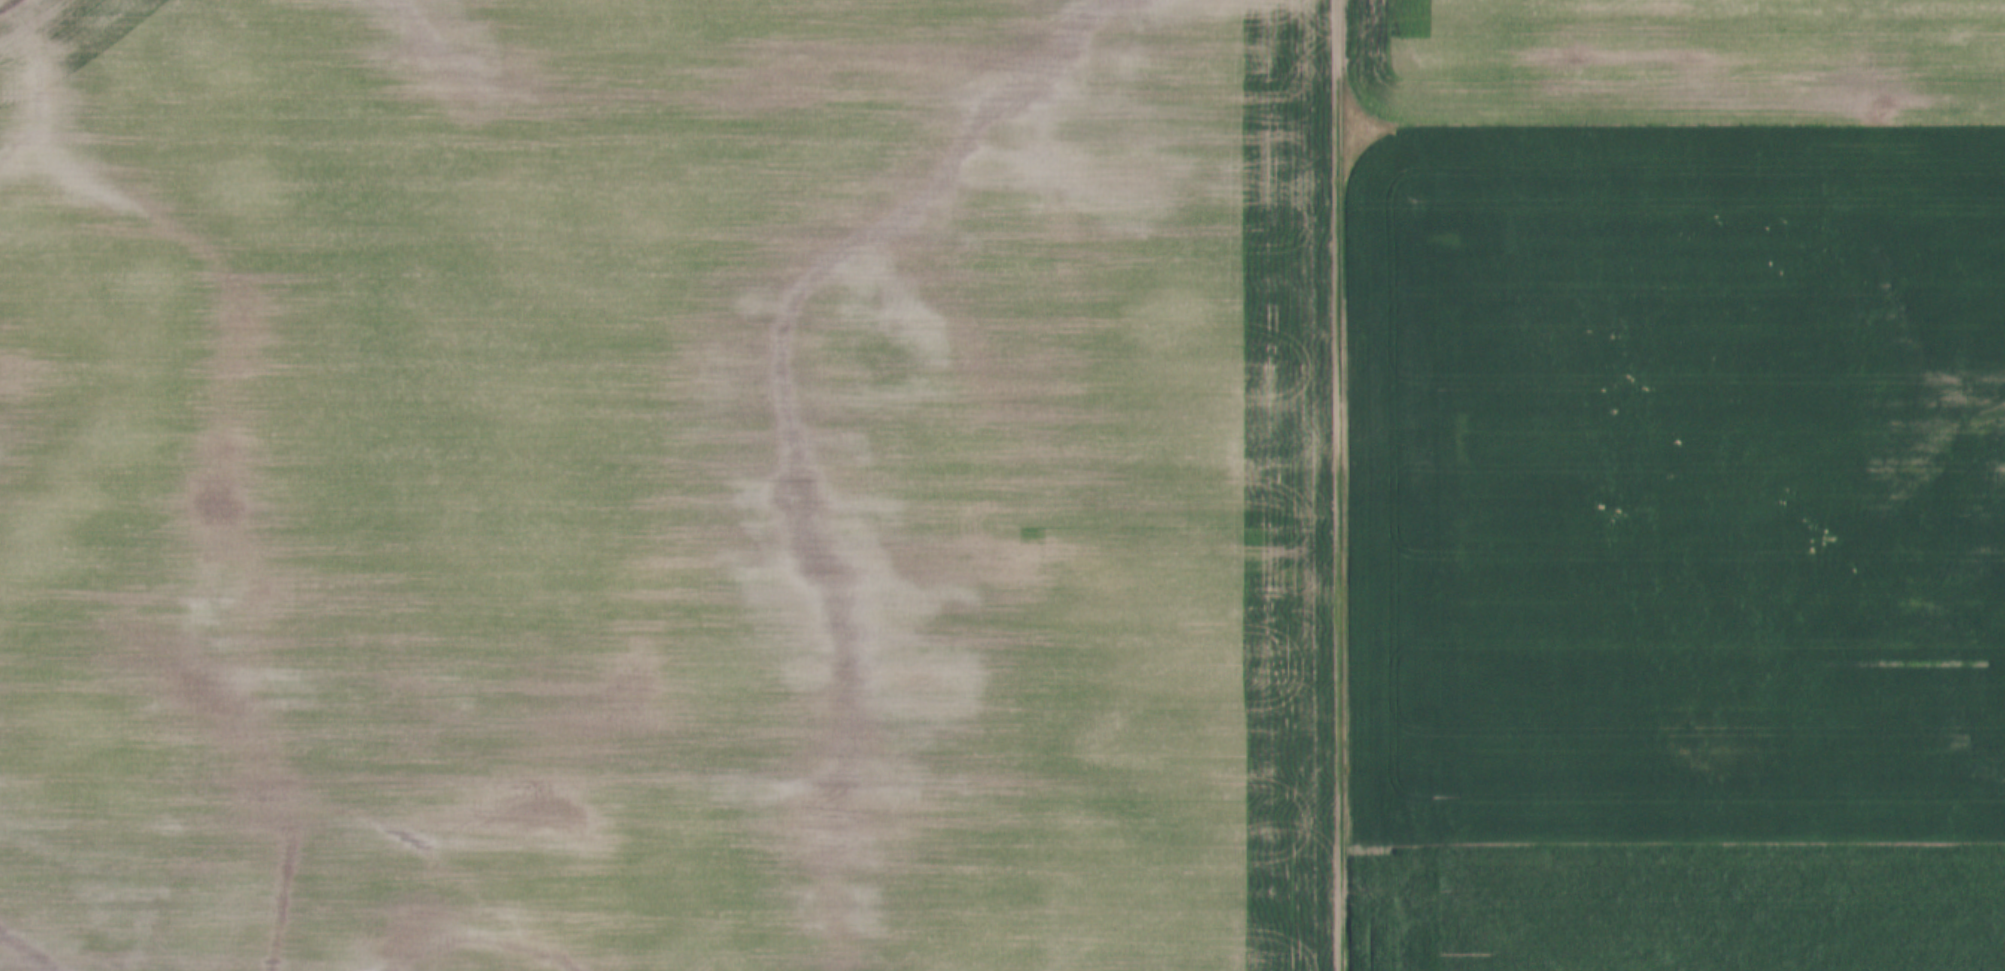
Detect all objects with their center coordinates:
road: (1345, 485)

